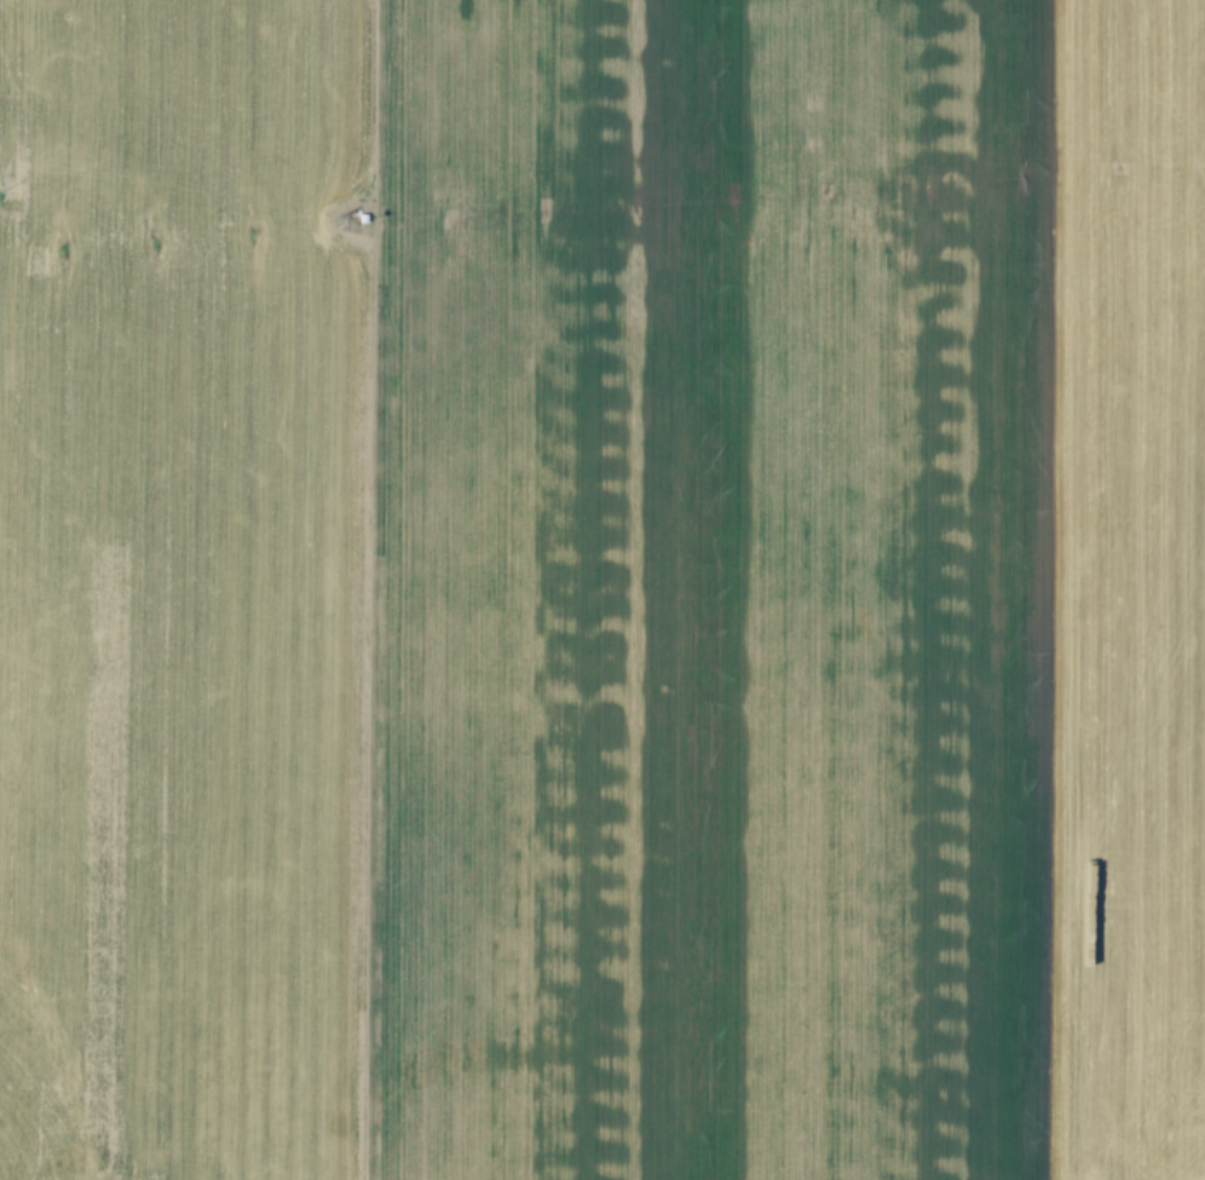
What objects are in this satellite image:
crop: (602, 589)

